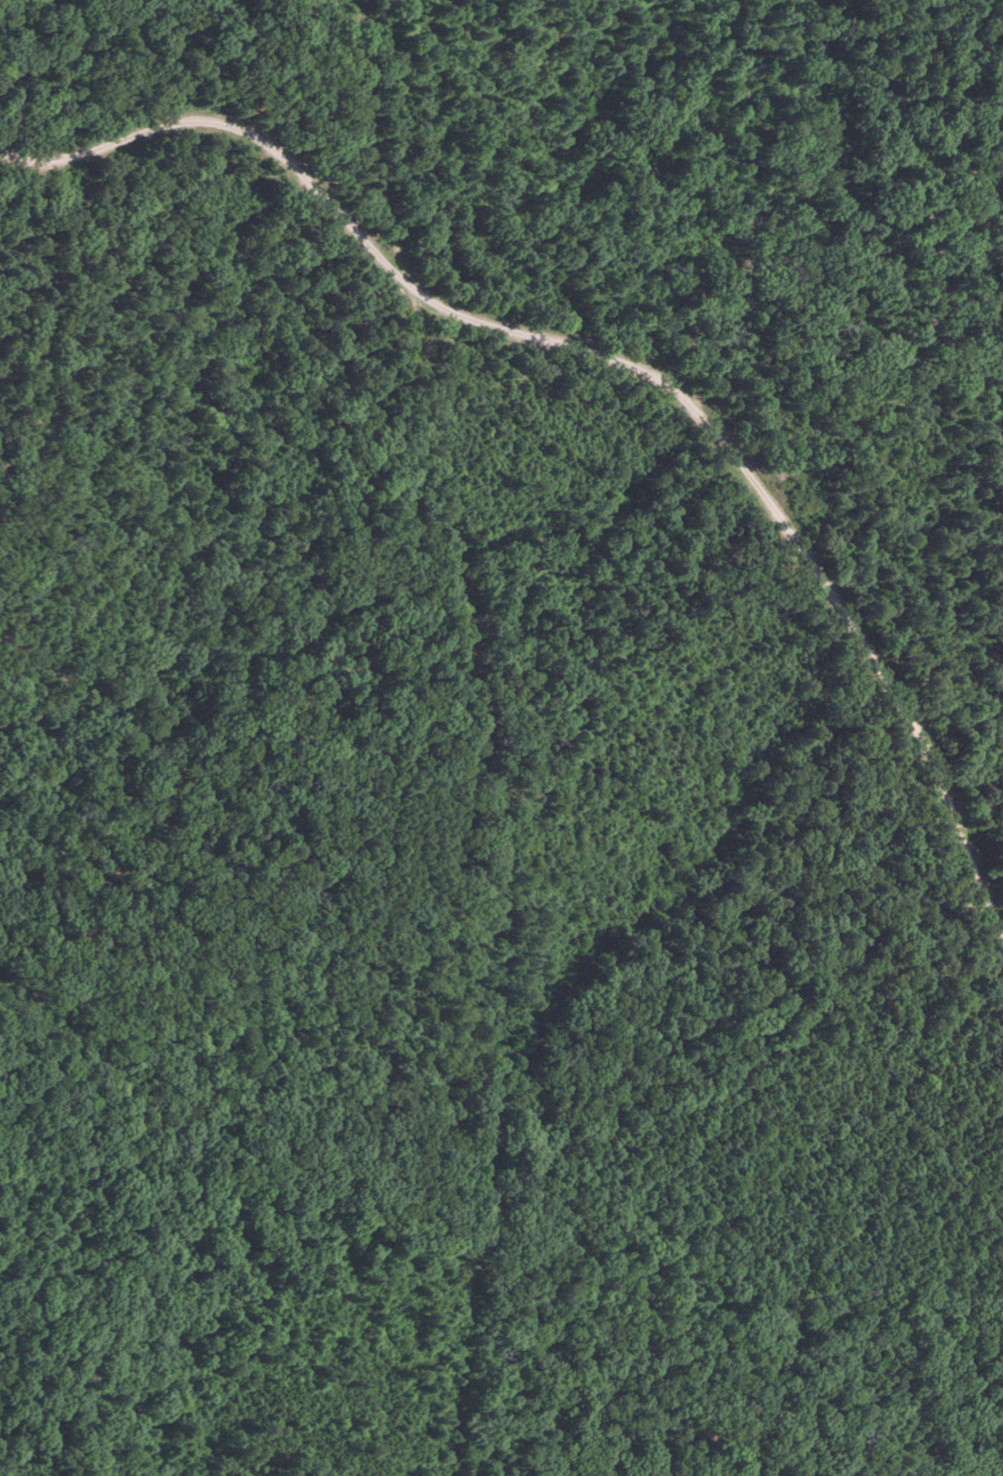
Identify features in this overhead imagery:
road: (618, 360)

